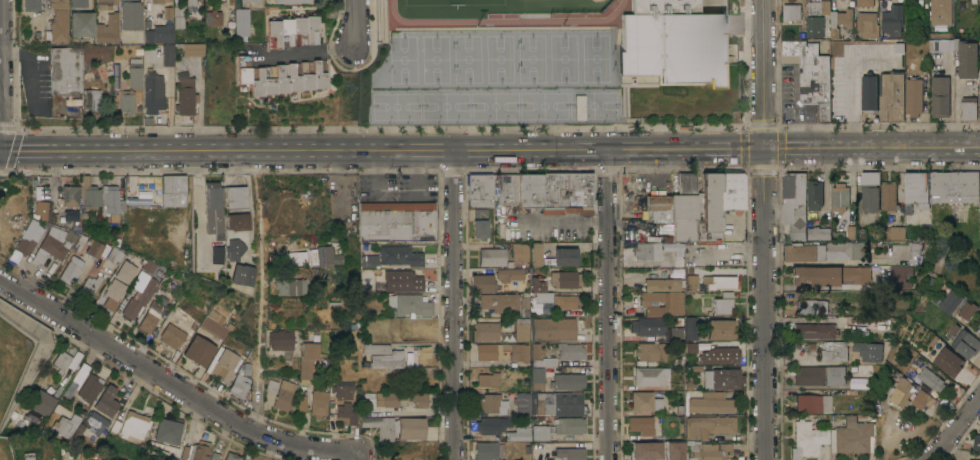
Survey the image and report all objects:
building: (251, 0)
building: (160, 1)
building: (290, 1)
park: (596, 1)
building: (979, 1)
building: (77, 3)
building: (104, 3)
building: (865, 3)
building: (30, 5)
building: (190, 5)
building: (819, 7)
building: (941, 11)
building: (791, 12)
track: (504, 13)
building: (129, 15)
building: (178, 17)
building: (214, 18)
building: (893, 20)
building: (840, 21)
building: (57, 22)
road: (354, 23)
building: (80, 24)
building: (240, 24)
street lamp: (475, 24)
street lamp: (560, 24)
building: (867, 25)
building: (815, 26)
road: (746, 28)
building: (106, 29)
building: (293, 30)
building: (158, 34)
street lamp: (374, 34)
building: (670, 42)
street lamp: (452, 47)
street lamp: (515, 47)
building: (899, 47)
road: (305, 51)
road: (369, 51)
street lamp: (611, 51)
building: (192, 52)
building: (960, 54)
road: (728, 56)
building: (98, 57)
park: (499, 58)
park: (531, 58)
park: (563, 58)
park: (595, 58)
park: (403, 59)
park: (435, 59)
park: (467, 59)
road: (722, 64)
street lamp: (612, 69)
building: (65, 70)
street lamp: (388, 70)
street lamp: (452, 70)
street lamp: (516, 70)
building: (134, 74)
building: (811, 74)
building: (279, 77)
building: (979, 87)
street lamp: (602, 88)
street lamp: (534, 89)
street lamp: (552, 89)
street lamp: (583, 89)
street lamp: (405, 90)
street lamp: (436, 90)
street lamp: (453, 90)
street lamp: (485, 90)
street lamp: (504, 90)
street lamp: (387, 91)
building: (151, 92)
road: (626, 95)
building: (914, 96)
building: (185, 97)
building: (883, 97)
building: (941, 97)
building: (89, 101)
building: (125, 101)
park: (543, 105)
park: (592, 105)
park: (395, 106)
park: (445, 106)
park: (494, 106)
building: (579, 107)
building: (969, 110)
street lamp: (683, 116)
street lamp: (637, 118)
street lamp: (455, 120)
street lamp: (553, 120)
street lamp: (583, 120)
street lamp: (602, 120)
street lamp: (775, 120)
street lamp: (436, 121)
street lamp: (485, 121)
street lamp: (504, 121)
street lamp: (535, 121)
street lamp: (387, 122)
street lamp: (405, 122)
road: (726, 126)
street lamp: (702, 128)
street lamp: (612, 130)
street lamp: (276, 131)
street lamp: (357, 131)
street lamp: (443, 131)
street lamp: (532, 131)
road: (869, 150)
road: (380, 151)
road: (779, 169)
building: (954, 186)
building: (917, 188)
building: (505, 189)
building: (529, 189)
building: (173, 190)
building: (480, 190)
building: (566, 190)
building: (732, 190)
building: (870, 191)
building: (841, 193)
building: (815, 195)
building: (88, 197)
building: (234, 197)
building: (888, 197)
building: (70, 202)
building: (111, 202)
building: (794, 204)
building: (658, 206)
building: (212, 208)
building: (708, 208)
building: (684, 209)
building: (43, 211)
building: (235, 221)
building: (396, 221)
road: (564, 221)
building: (480, 223)
building: (70, 224)
building: (842, 224)
road: (762, 229)
building: (897, 232)
building: (979, 232)
building: (818, 233)
building: (861, 234)
building: (29, 238)
building: (79, 243)
building: (53, 244)
building: (93, 247)
building: (230, 249)
building: (658, 249)
building: (845, 250)
building: (799, 252)
building: (821, 253)
building: (914, 253)
building: (212, 255)
building: (324, 255)
building: (400, 255)
building: (115, 256)
building: (504, 256)
building: (288, 258)
building: (369, 261)
building: (148, 266)
building: (72, 270)
building: (205, 273)
building: (509, 274)
building: (238, 275)
building: (830, 275)
building: (901, 276)
building: (555, 278)
building: (402, 281)
building: (691, 282)
building: (720, 282)
building: (481, 283)
building: (118, 285)
building: (90, 286)
building: (285, 287)
road: (810, 287)
building: (139, 300)
building: (948, 301)
building: (506, 303)
building: (409, 305)
road: (455, 305)
road: (609, 305)
building: (722, 306)
building: (812, 306)
building: (660, 308)
building: (968, 310)
building: (151, 317)
building: (213, 328)
building: (690, 328)
building: (522, 329)
building: (552, 329)
building: (718, 330)
building: (486, 331)
building: (814, 331)
building: (175, 333)
building: (506, 336)
building: (278, 340)
building: (966, 343)
building: (691, 347)
building: (373, 348)
building: (535, 350)
building: (835, 350)
building: (199, 351)
building: (651, 351)
building: (869, 351)
building: (502, 352)
building: (570, 352)
building: (422, 354)
road: (127, 355)
building: (719, 355)
building: (305, 359)
building: (387, 359)
building: (61, 361)
building: (949, 362)
building: (223, 365)
building: (861, 370)
building: (930, 374)
building: (78, 375)
building: (819, 375)
building: (553, 376)
building: (649, 376)
building: (722, 378)
building: (489, 379)
building: (239, 385)
building: (270, 386)
building: (89, 388)
building: (341, 389)
building: (903, 392)
building: (283, 395)
building: (385, 399)
building: (923, 399)
building: (418, 400)
building: (107, 401)
building: (644, 401)
building: (41, 402)
building: (301, 403)
building: (318, 403)
building: (493, 403)
building: (556, 403)
building: (710, 403)
building: (813, 403)
building: (523, 405)
building: (346, 413)
building: (94, 422)
building: (134, 424)
building: (493, 425)
building: (570, 425)
building: (640, 425)
building: (710, 425)
building: (62, 427)
building: (394, 427)
building: (166, 429)
road: (955, 429)
building: (539, 432)
building: (518, 434)
building: (853, 437)
building: (807, 439)
building: (977, 439)
road: (306, 444)
building: (524, 450)
building: (200, 451)
building: (489, 451)
building: (706, 451)
building: (421, 453)
building: (570, 453)
building: (28, 456)
building: (232, 456)
building: (109, 459)

